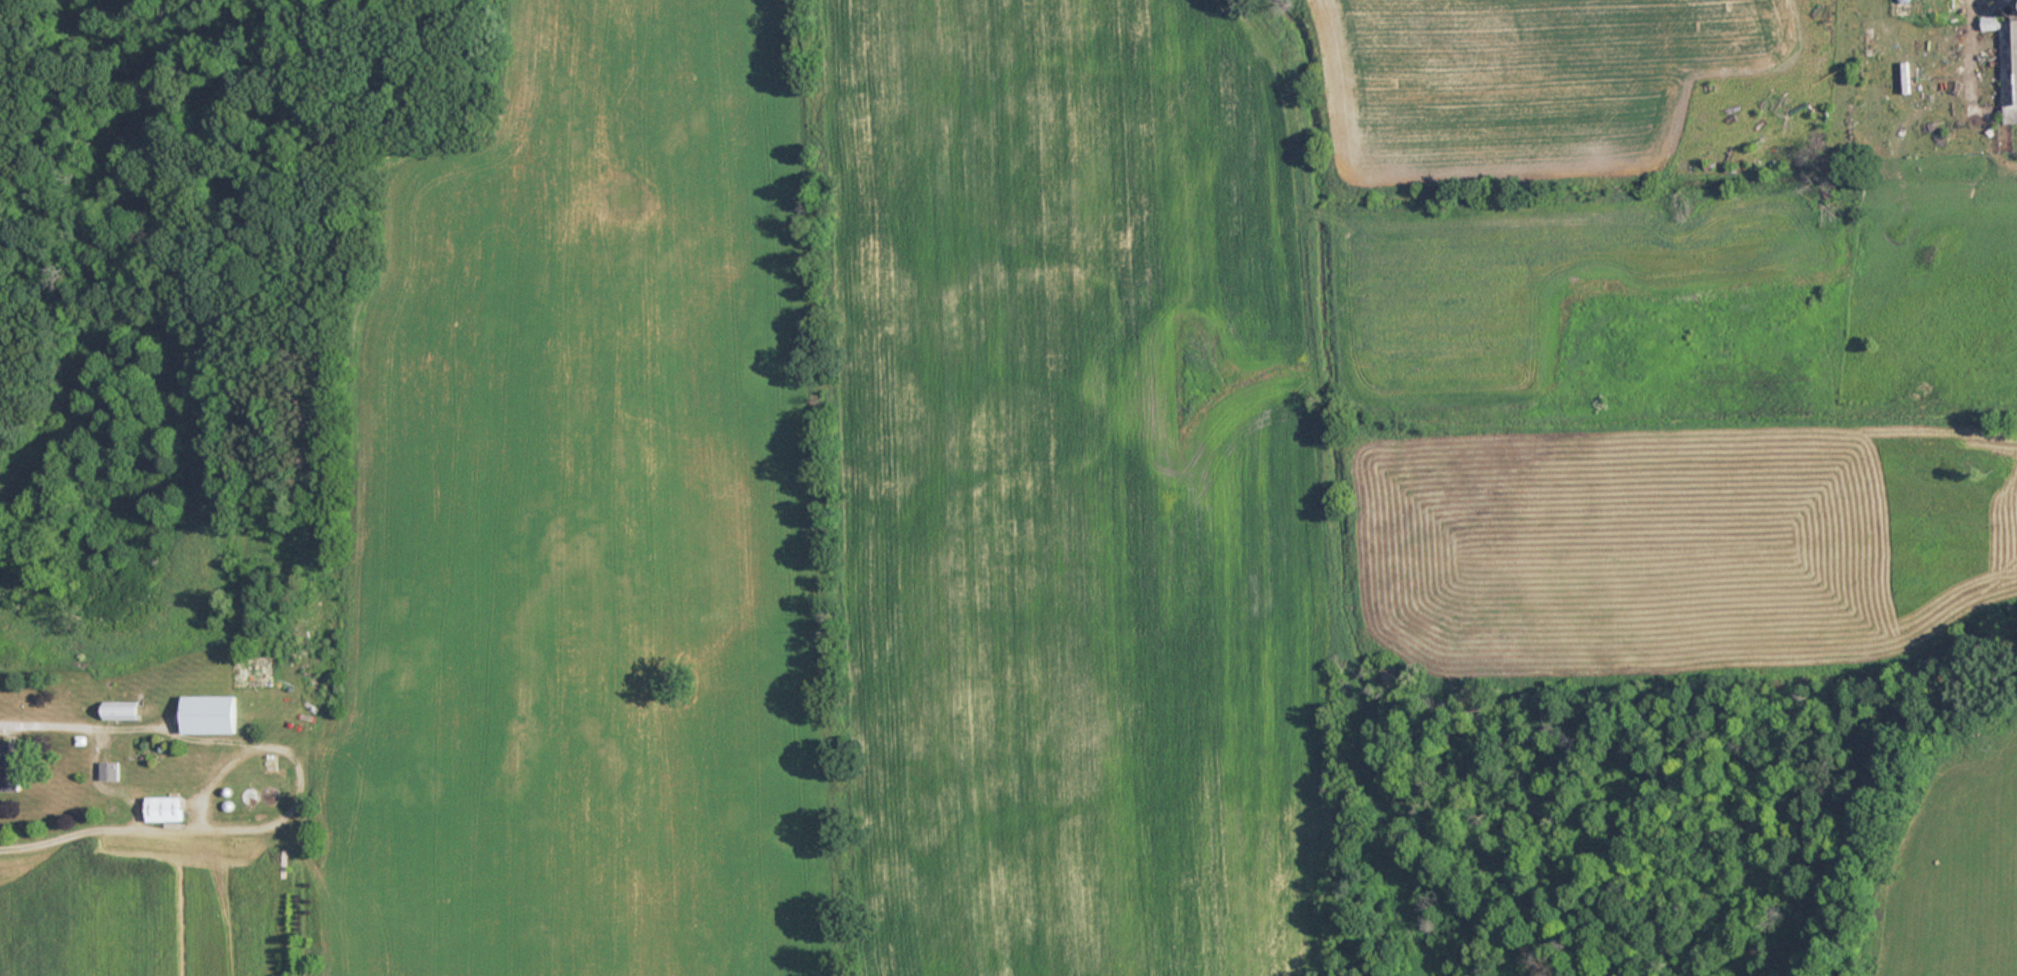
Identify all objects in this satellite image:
building: (2007, 64)
building: (119, 711)
building: (208, 716)
building: (9, 770)
building: (106, 772)
road: (212, 777)
road: (296, 783)
road: (97, 787)
building: (267, 798)
building: (247, 799)
building: (162, 810)

